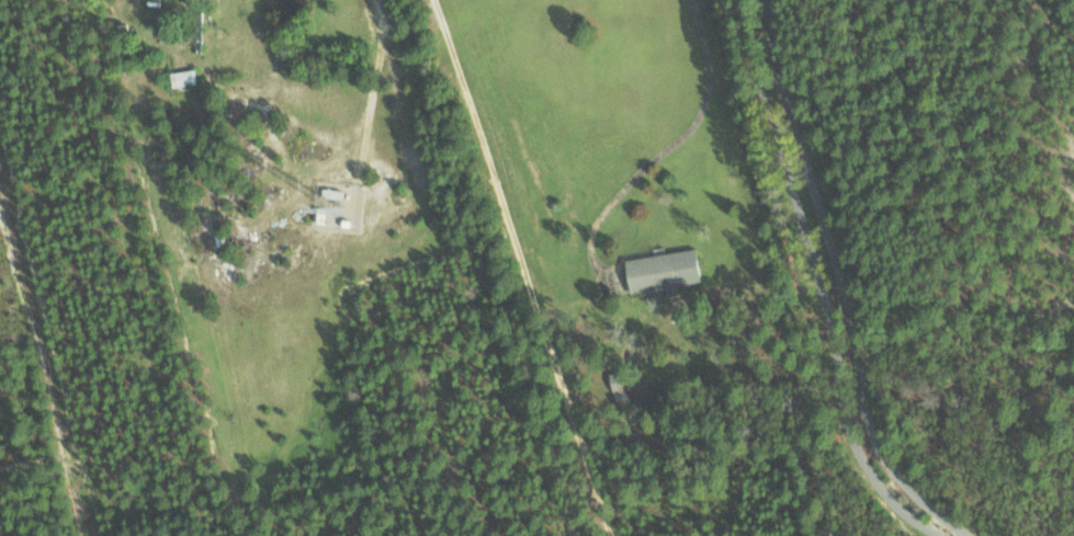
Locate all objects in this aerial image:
building: (199, 26)
building: (186, 78)
building: (656, 271)
road: (821, 285)

